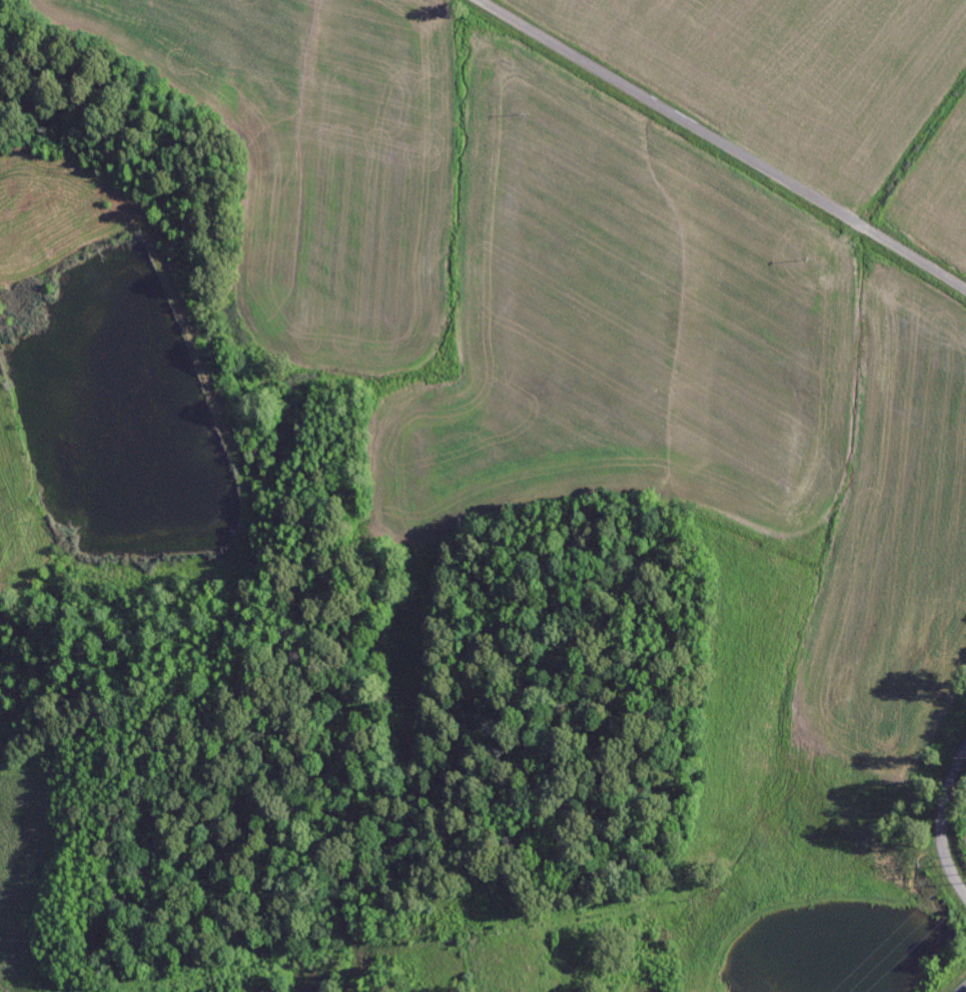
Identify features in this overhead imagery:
road: (722, 144)
road: (941, 821)
road: (964, 991)

